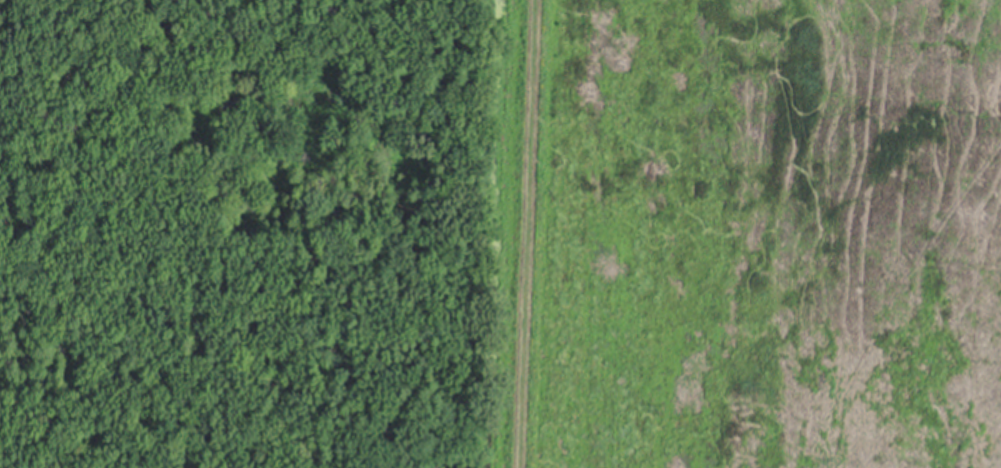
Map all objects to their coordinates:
crop: (759, 235)

